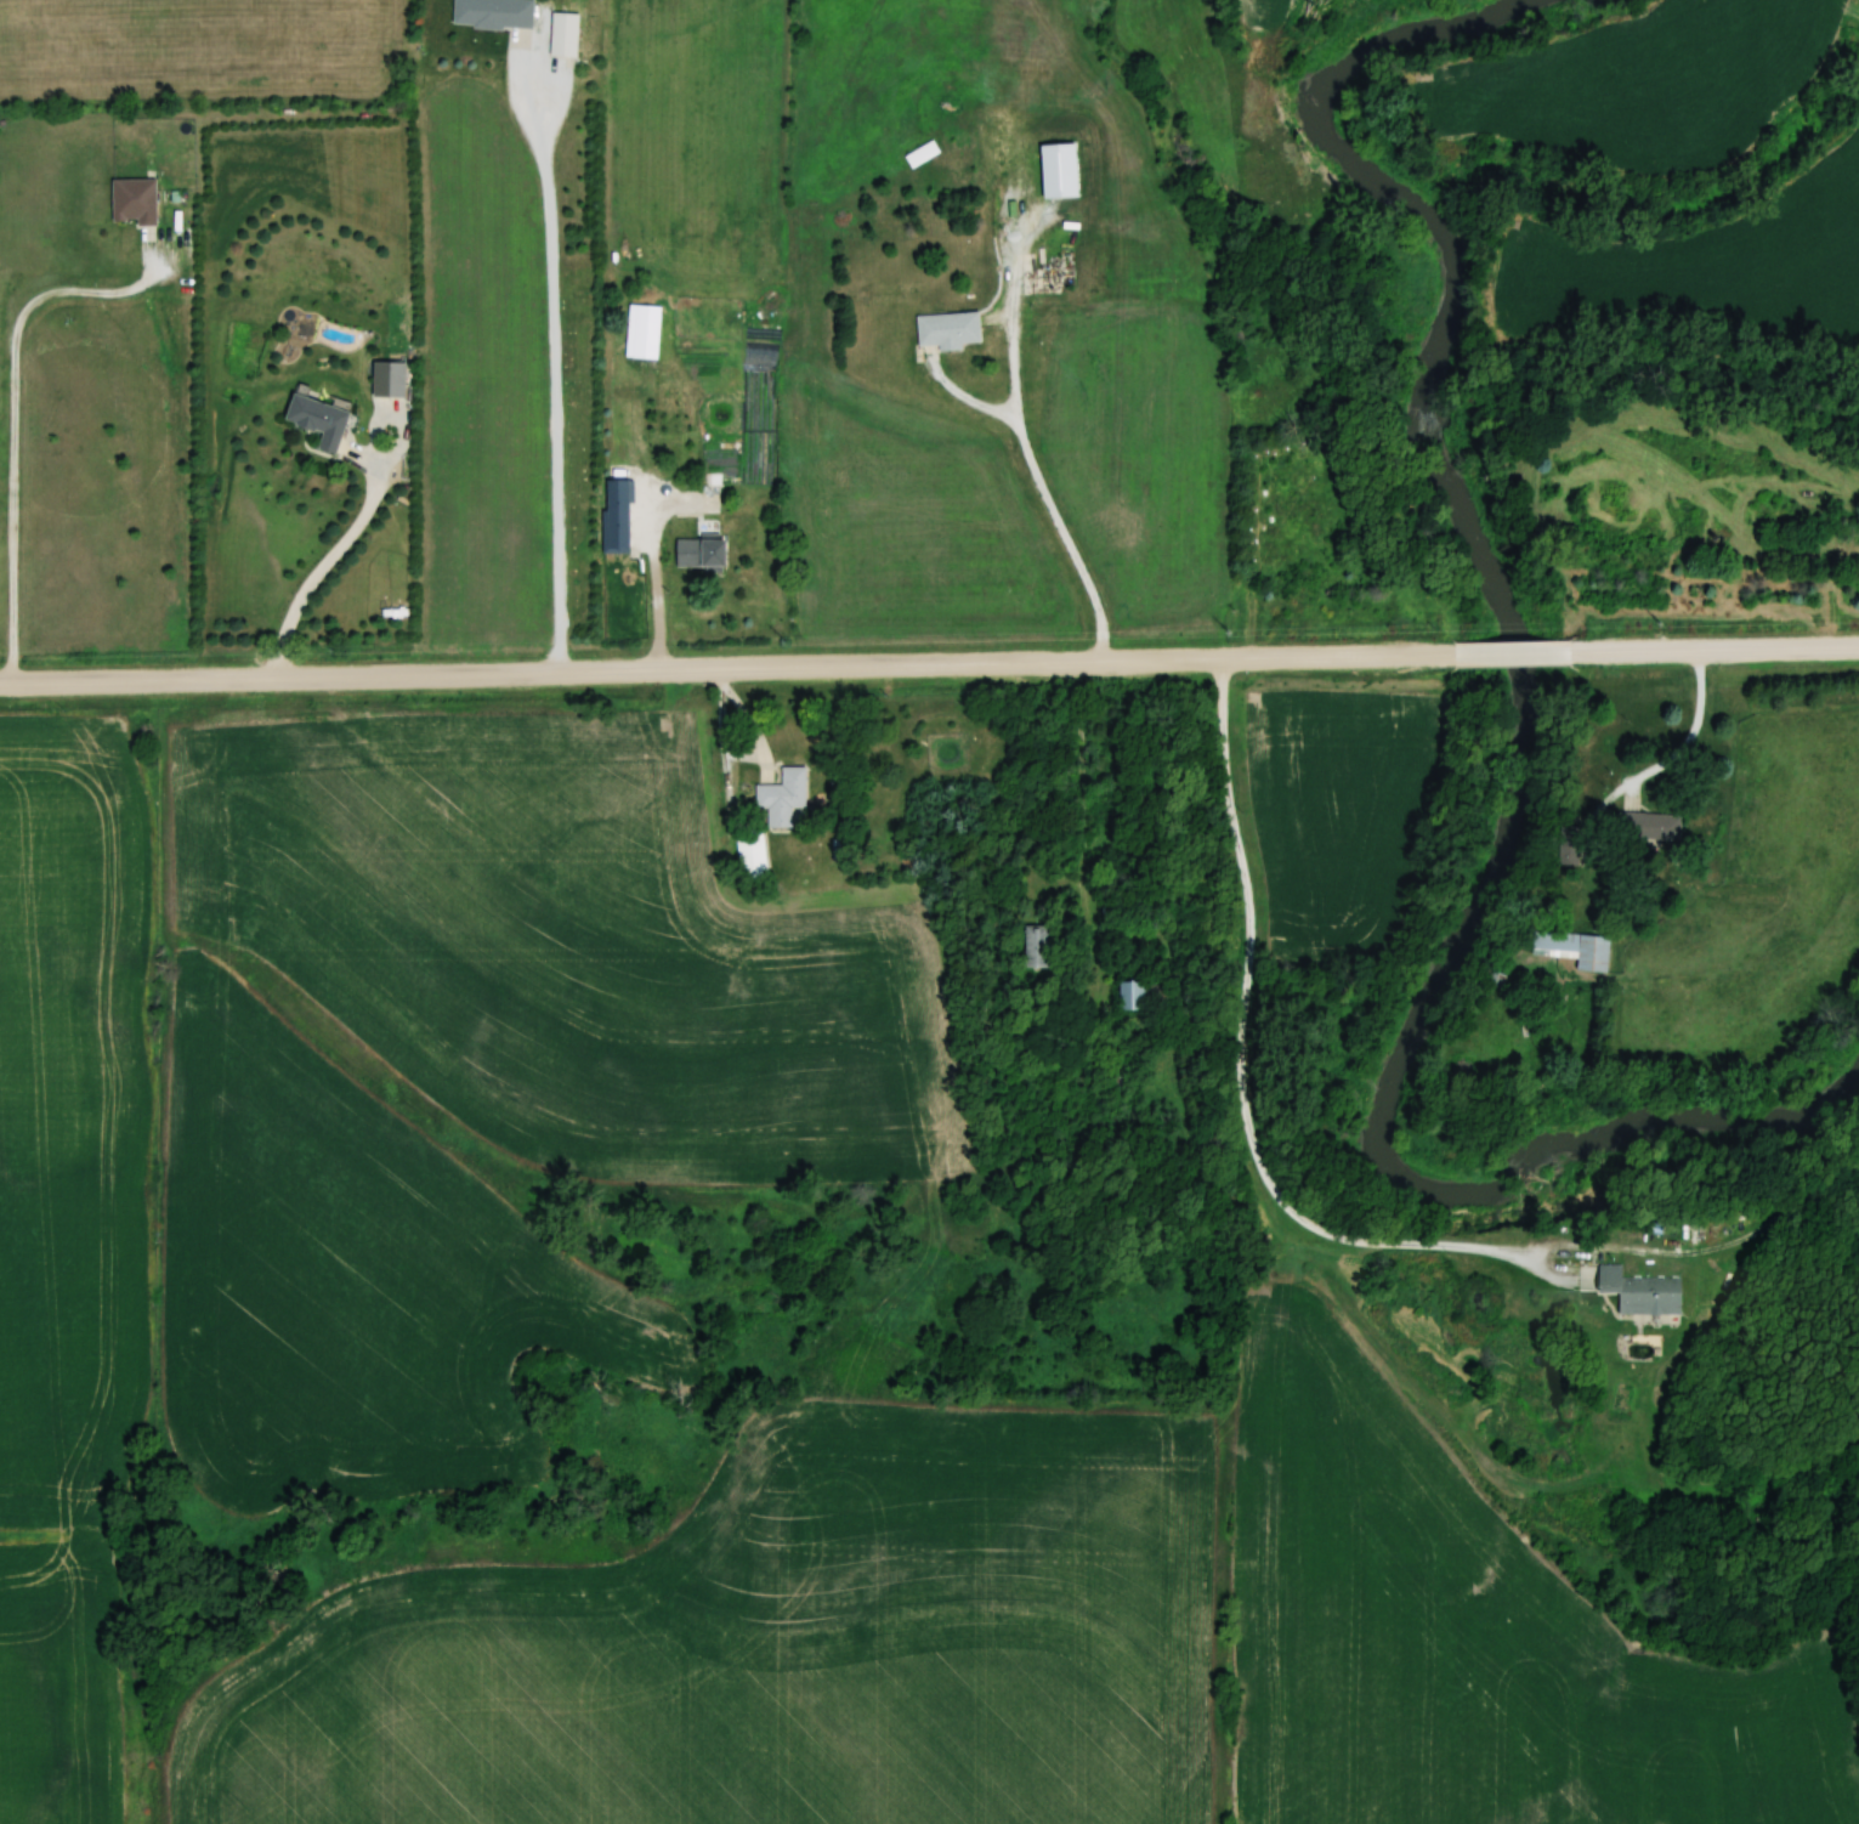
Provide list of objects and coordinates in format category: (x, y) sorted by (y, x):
building: (494, 13)
building: (565, 34)
building: (922, 153)
building: (135, 202)
building: (950, 329)
road: (555, 359)
building: (390, 379)
road: (16, 418)
building: (321, 420)
road: (1047, 499)
building: (627, 534)
building: (702, 554)
road: (325, 567)
road: (1717, 646)
road: (1525, 651)
road: (1132, 663)
road: (602, 673)
road: (208, 681)
river: (1531, 729)
road: (1694, 732)
building: (783, 798)
building: (1649, 827)
building: (1571, 846)
building: (752, 856)
building: (1143, 905)
building: (1038, 947)
building: (1575, 950)
building: (1134, 997)
road: (1258, 1110)
building: (1642, 1292)

